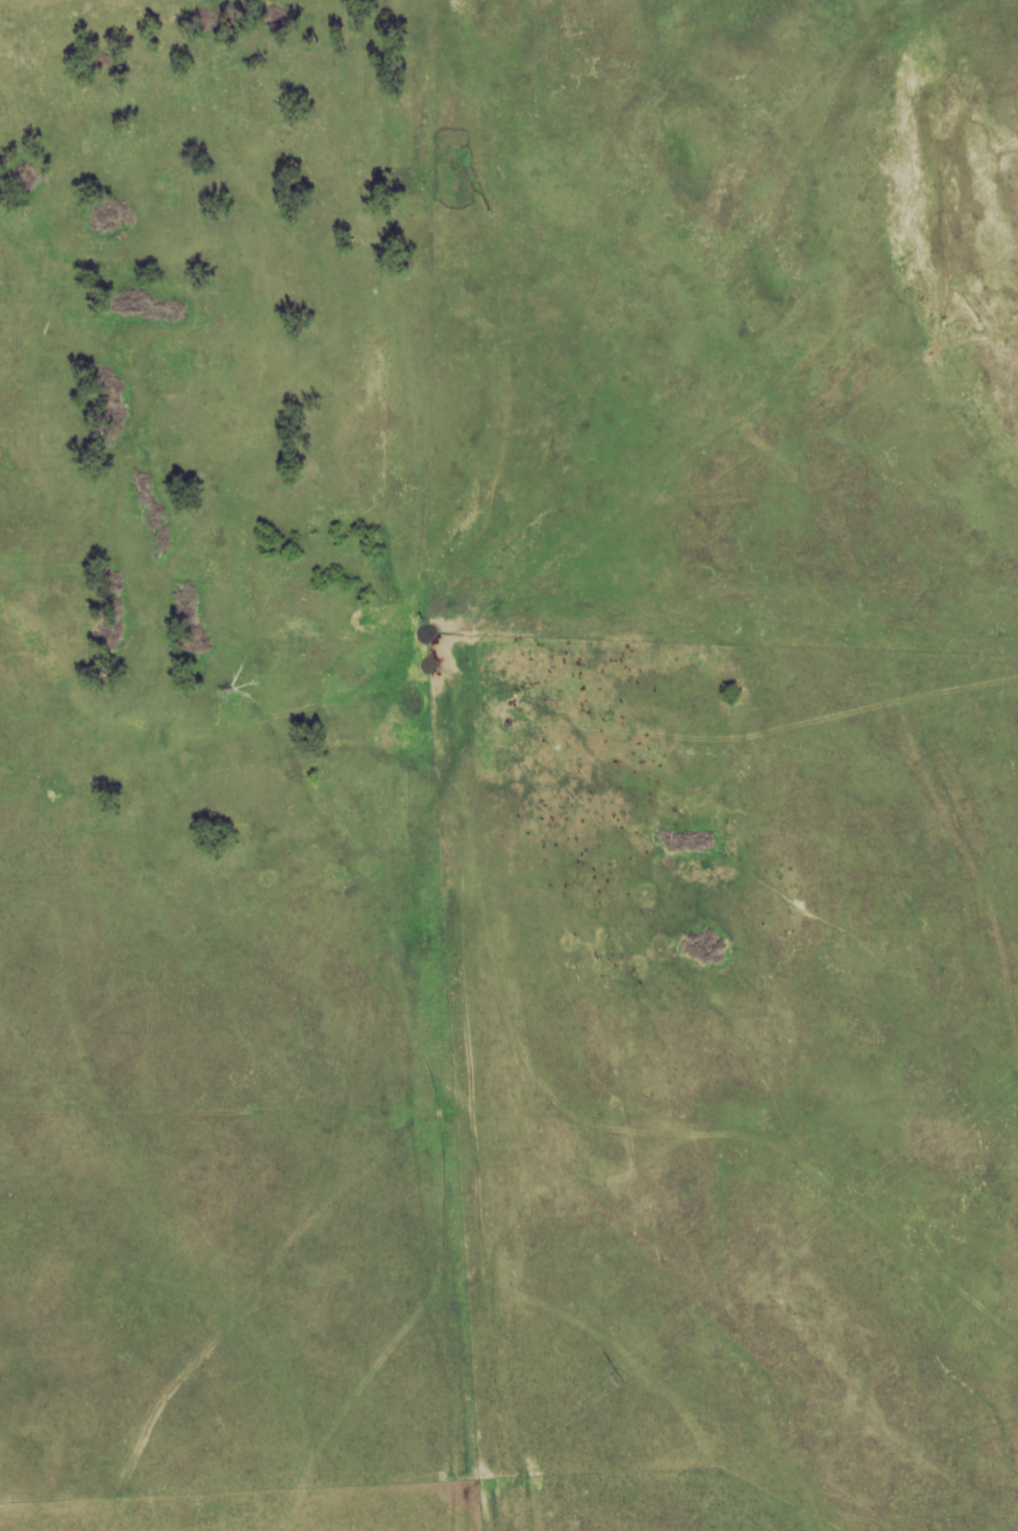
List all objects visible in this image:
power tower: (620, 1377)

